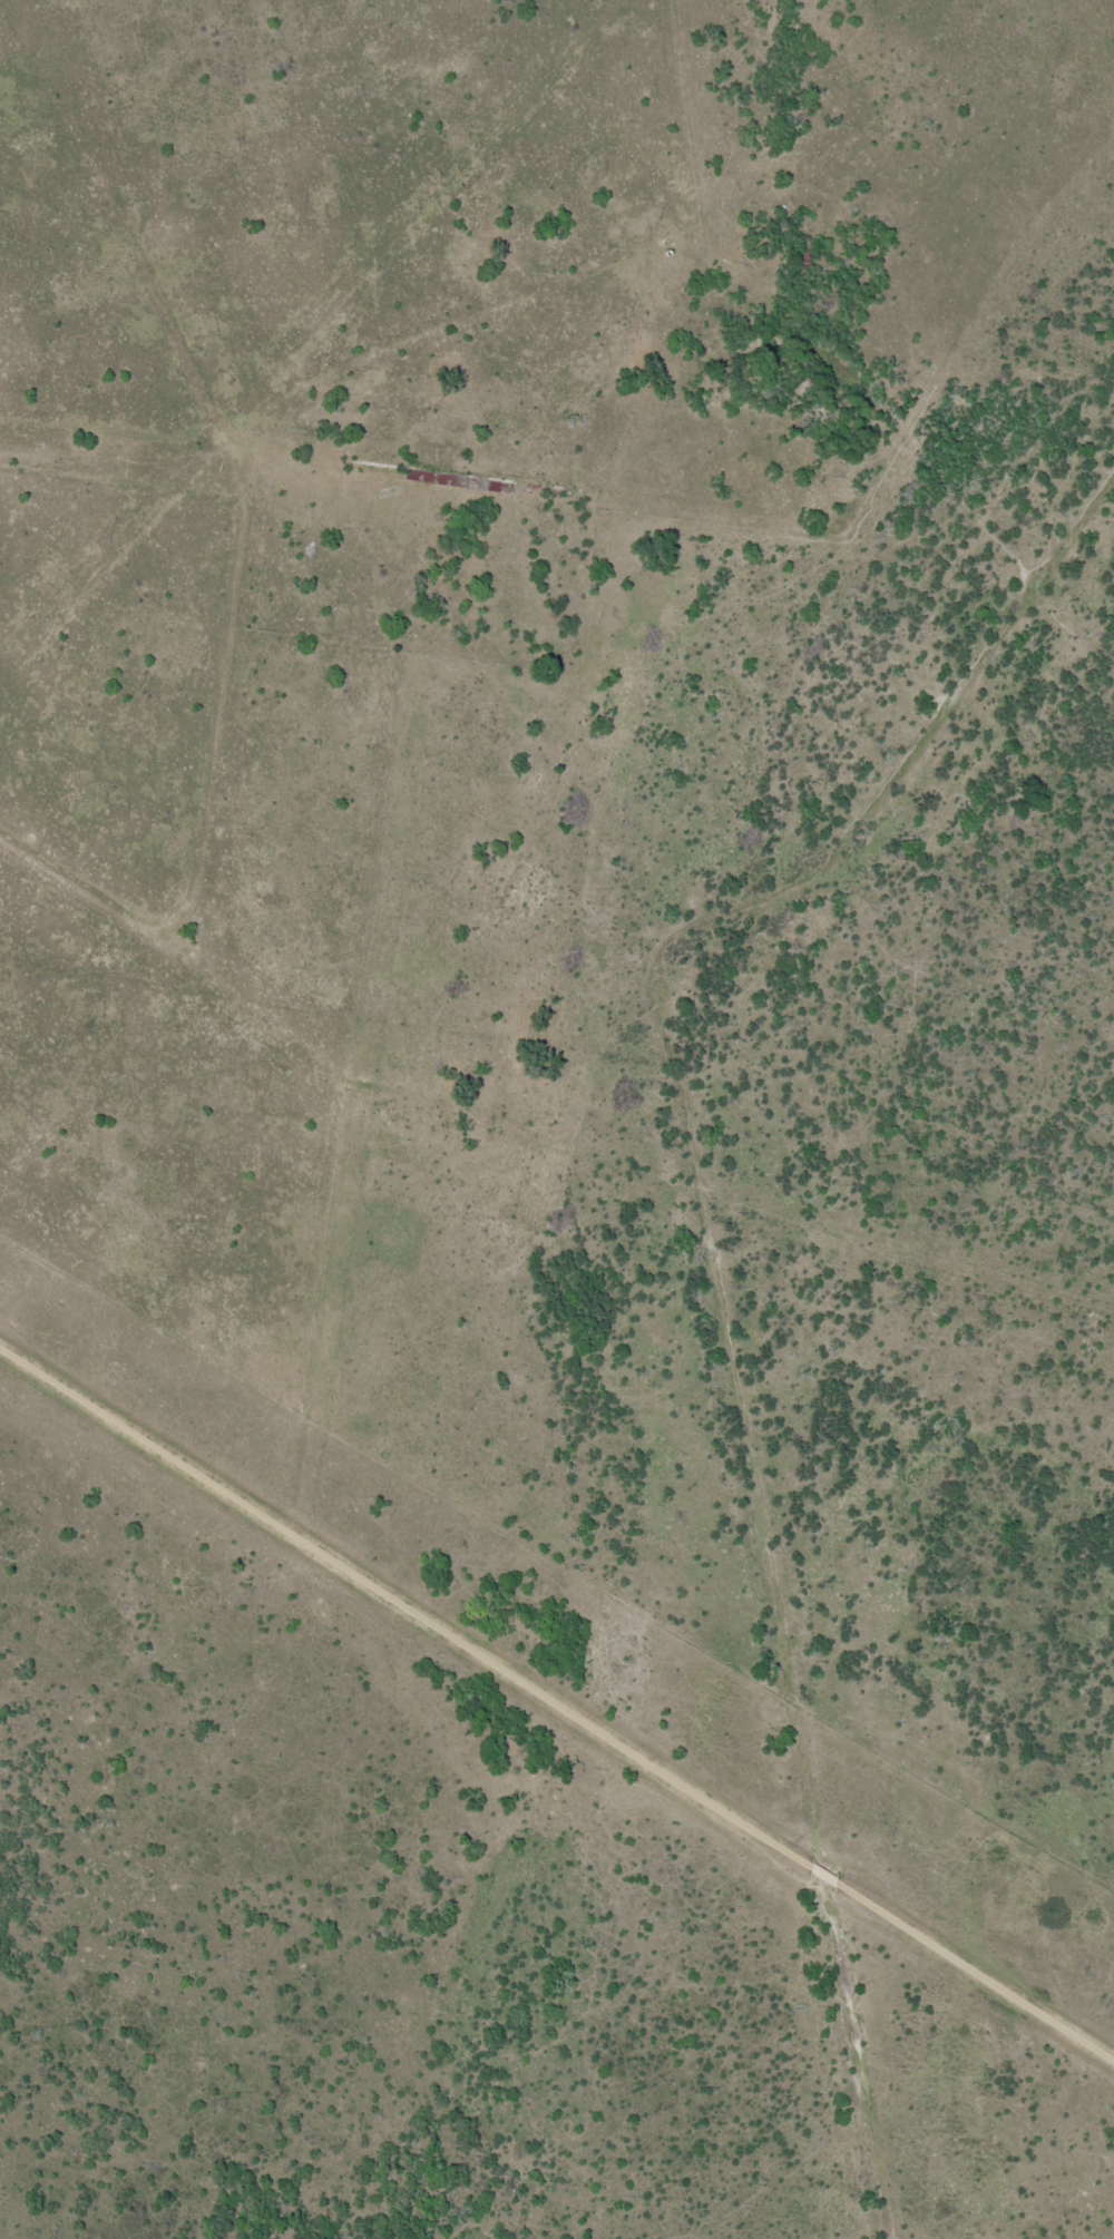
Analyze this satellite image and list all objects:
road: (560, 1685)

